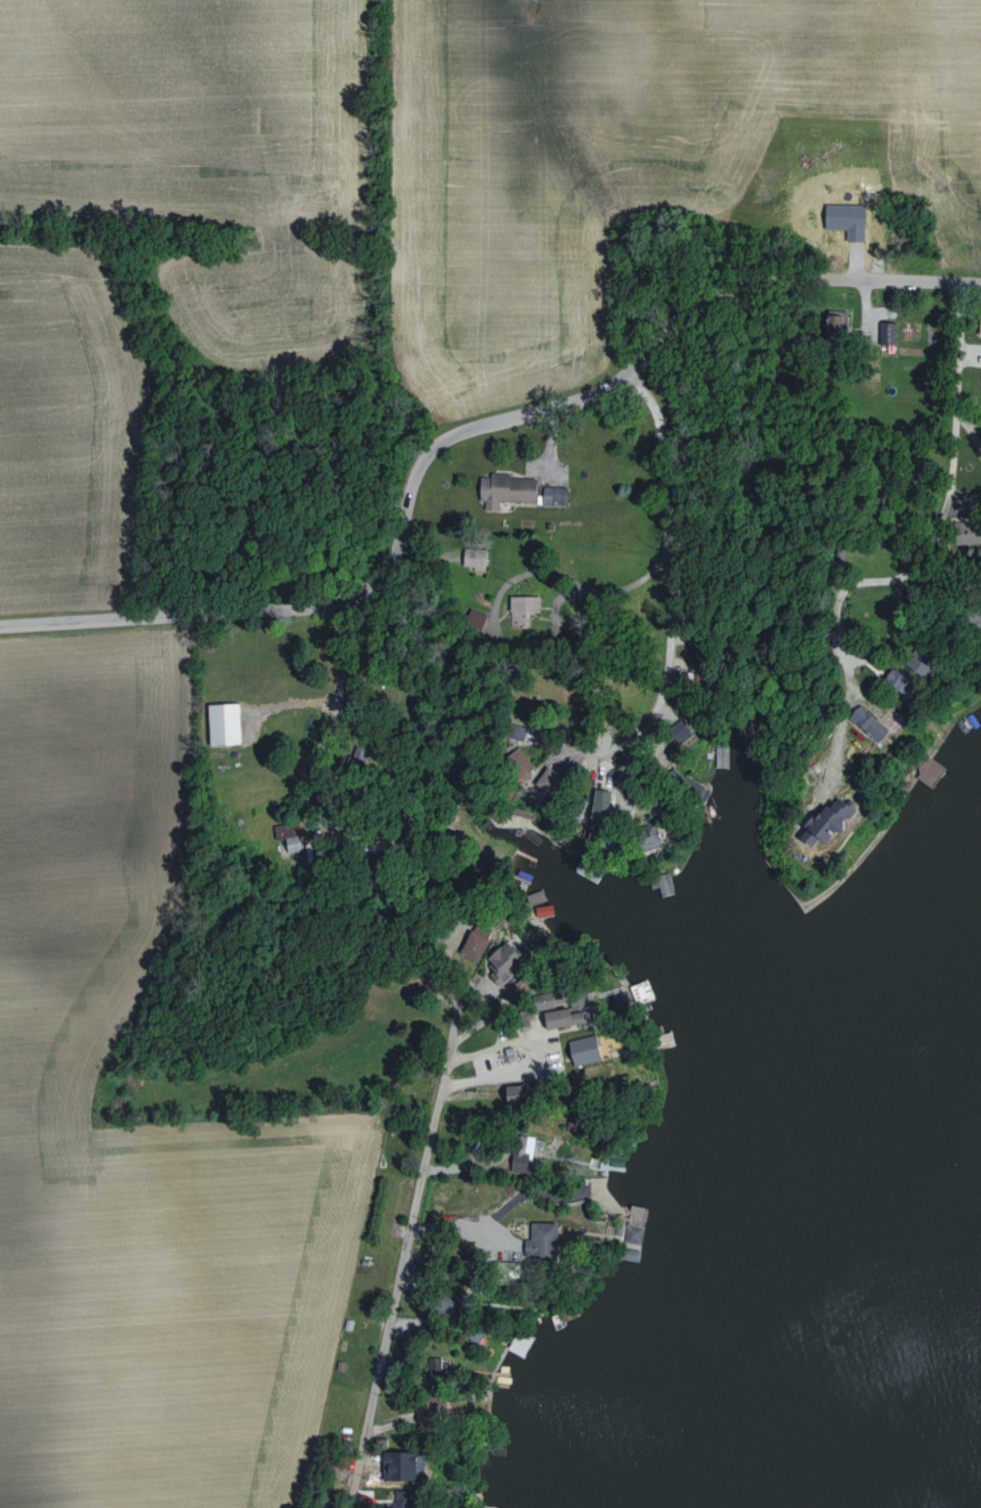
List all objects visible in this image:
building: (979, 325)
building: (889, 332)
road: (466, 429)
road: (970, 440)
road: (977, 445)
building: (503, 488)
building: (552, 495)
building: (964, 532)
road: (933, 537)
building: (472, 558)
road: (667, 570)
building: (521, 607)
building: (474, 618)
road: (512, 647)
building: (895, 680)
building: (866, 722)
building: (222, 723)
building: (680, 729)
building: (518, 731)
road: (358, 742)
building: (516, 762)
building: (684, 784)
building: (596, 812)
building: (820, 821)
building: (644, 834)
building: (288, 839)
building: (498, 962)
building: (554, 1018)
road: (451, 1028)
road: (500, 1030)
building: (521, 1153)
building: (632, 1233)
building: (539, 1241)
road: (394, 1290)
building: (433, 1366)

